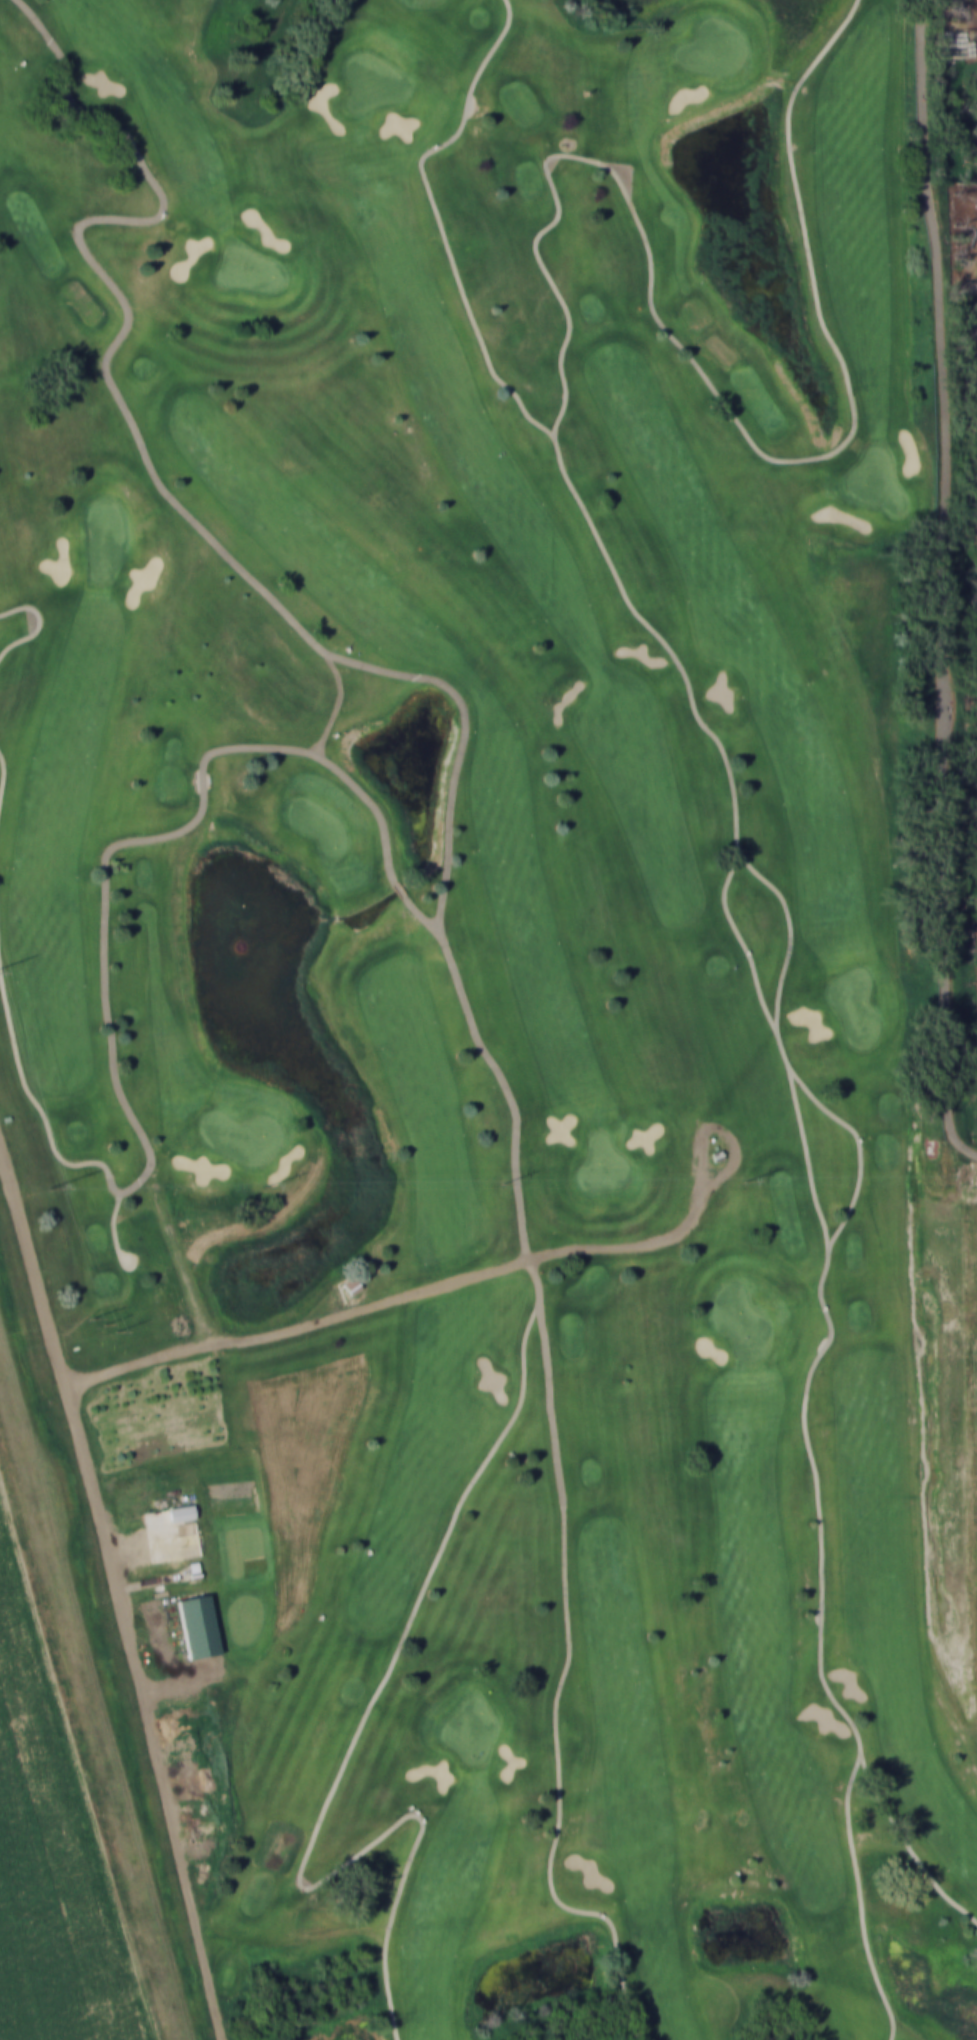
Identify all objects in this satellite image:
road: (122, 403)
road: (726, 405)
road: (937, 584)
road: (646, 624)
road: (40, 628)
road: (5, 778)
road: (445, 860)
road: (400, 887)
road: (105, 892)
road: (790, 943)
park: (498, 991)
road: (36, 1102)
road: (859, 1136)
building: (713, 1147)
road: (705, 1200)
road: (540, 1274)
road: (490, 1279)
power tower: (110, 1322)
road: (817, 1368)
building: (180, 1512)
road: (116, 1588)
building: (198, 1625)
road: (97, 1684)
road: (560, 1690)
road: (76, 1748)
road: (348, 1760)
road: (910, 1847)
road: (862, 1901)

